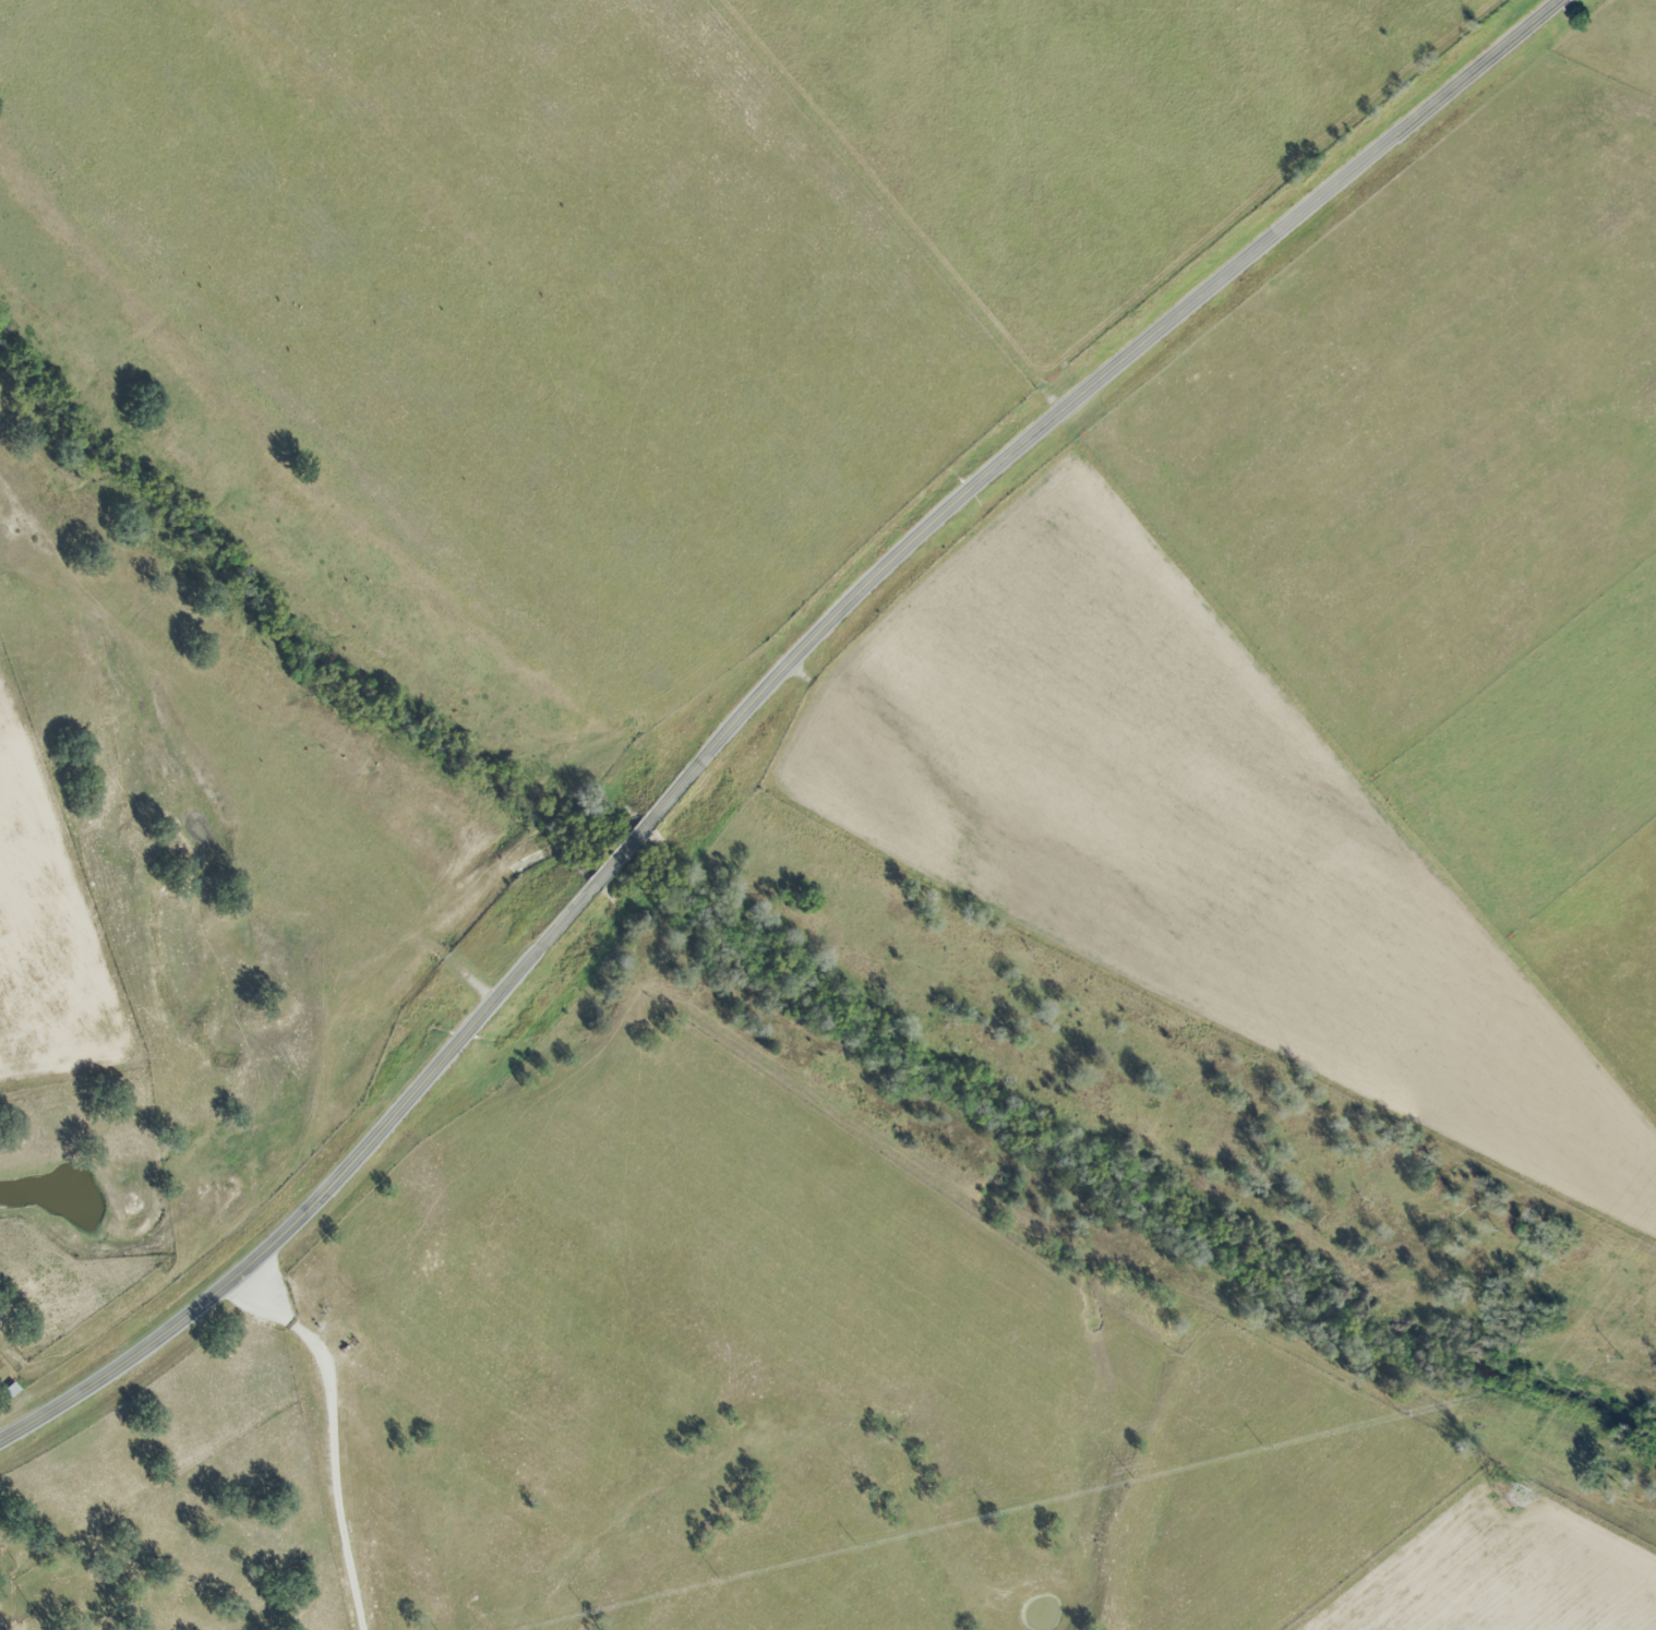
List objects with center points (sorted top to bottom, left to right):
road: (1088, 393)
river: (272, 611)
road: (617, 856)
river: (1100, 1163)
road: (320, 1195)
road: (333, 1435)
power tower: (1509, 1498)

